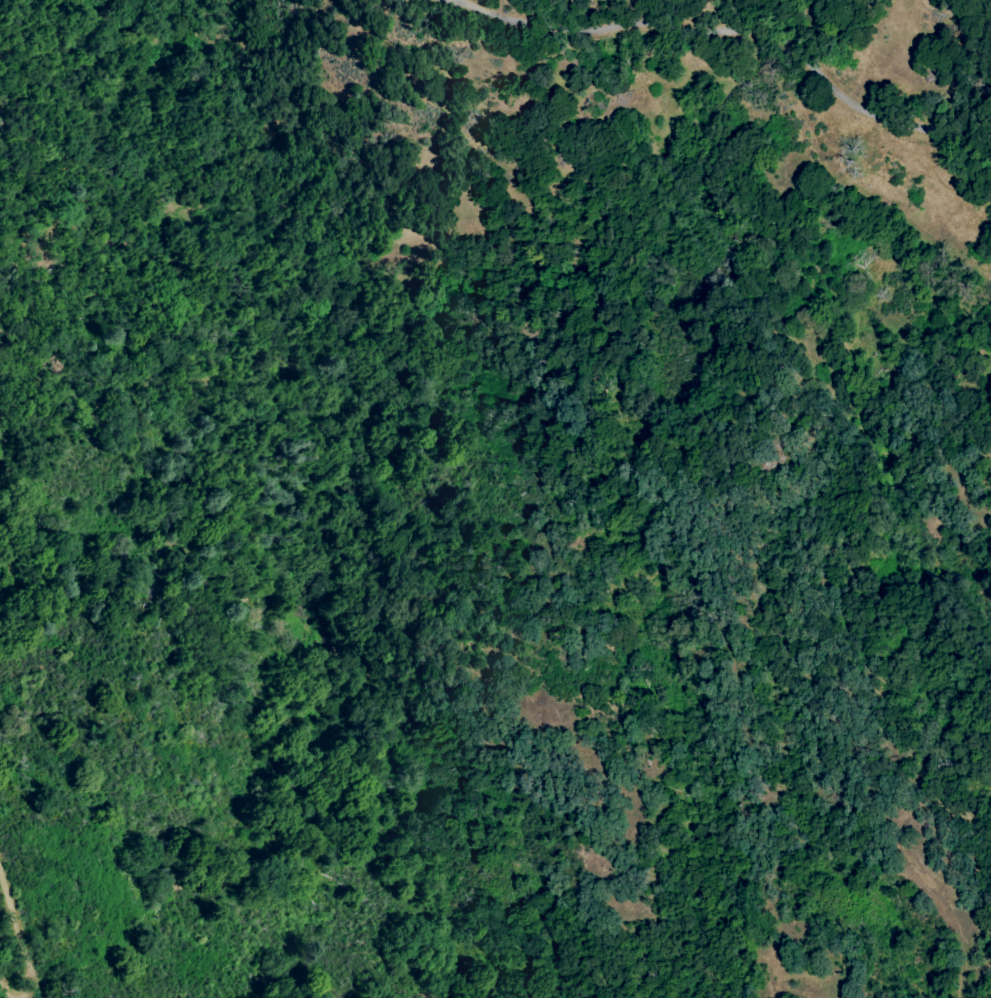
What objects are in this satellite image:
road: (728, 30)
road: (25, 951)

